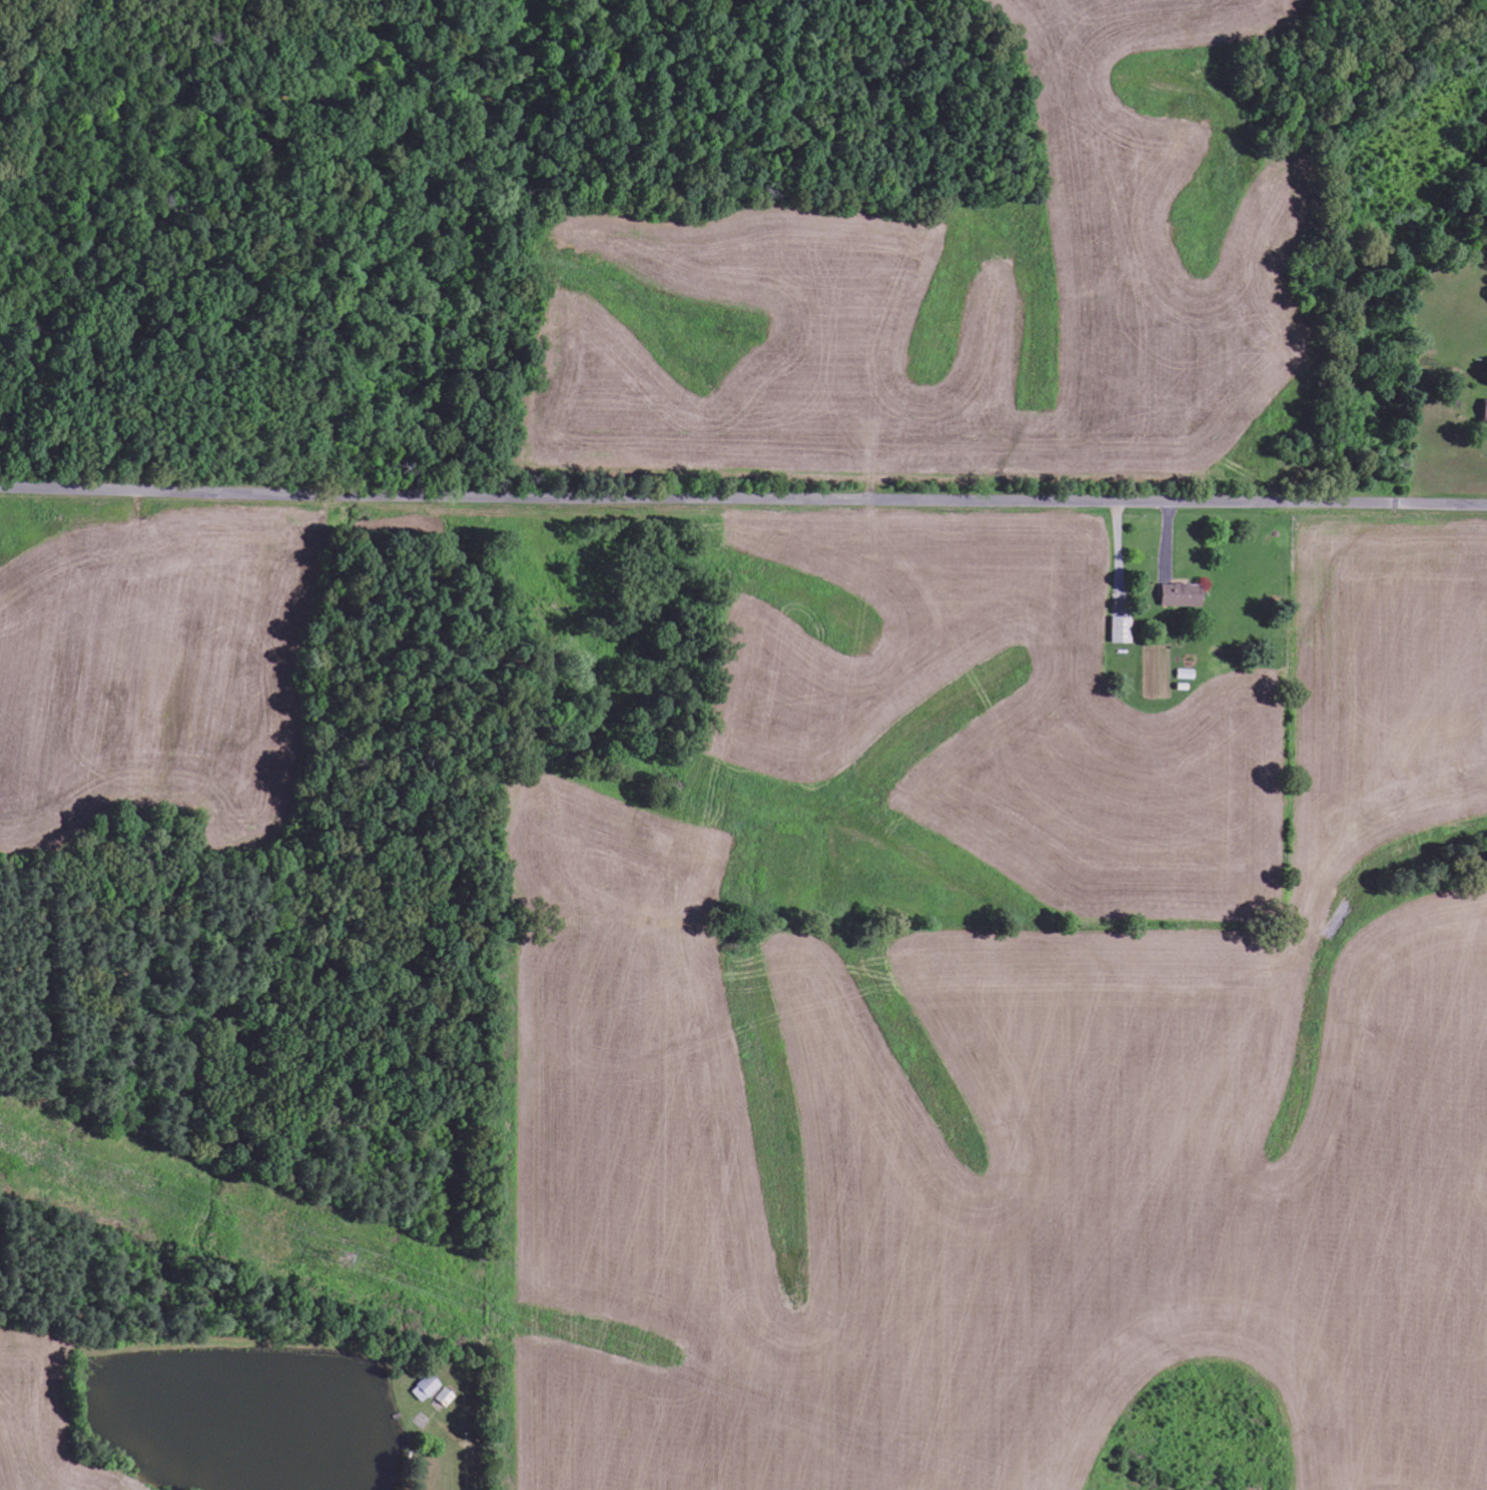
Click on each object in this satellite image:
road: (743, 499)
building: (1185, 598)
building: (1124, 630)
power tower: (345, 1253)

